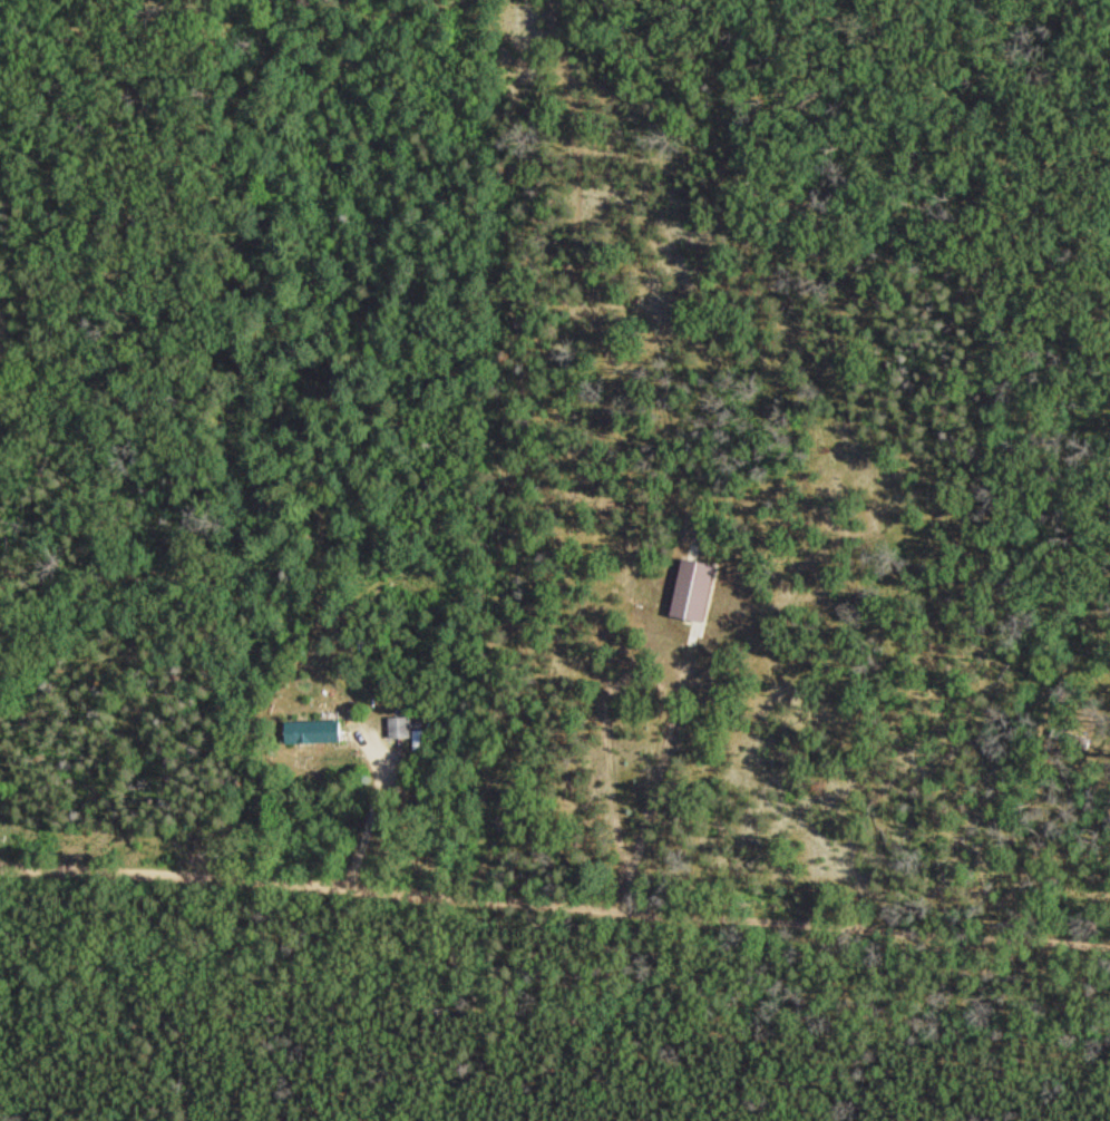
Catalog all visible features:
building: (698, 592)
building: (317, 730)
building: (408, 730)
road: (661, 788)
road: (554, 899)

